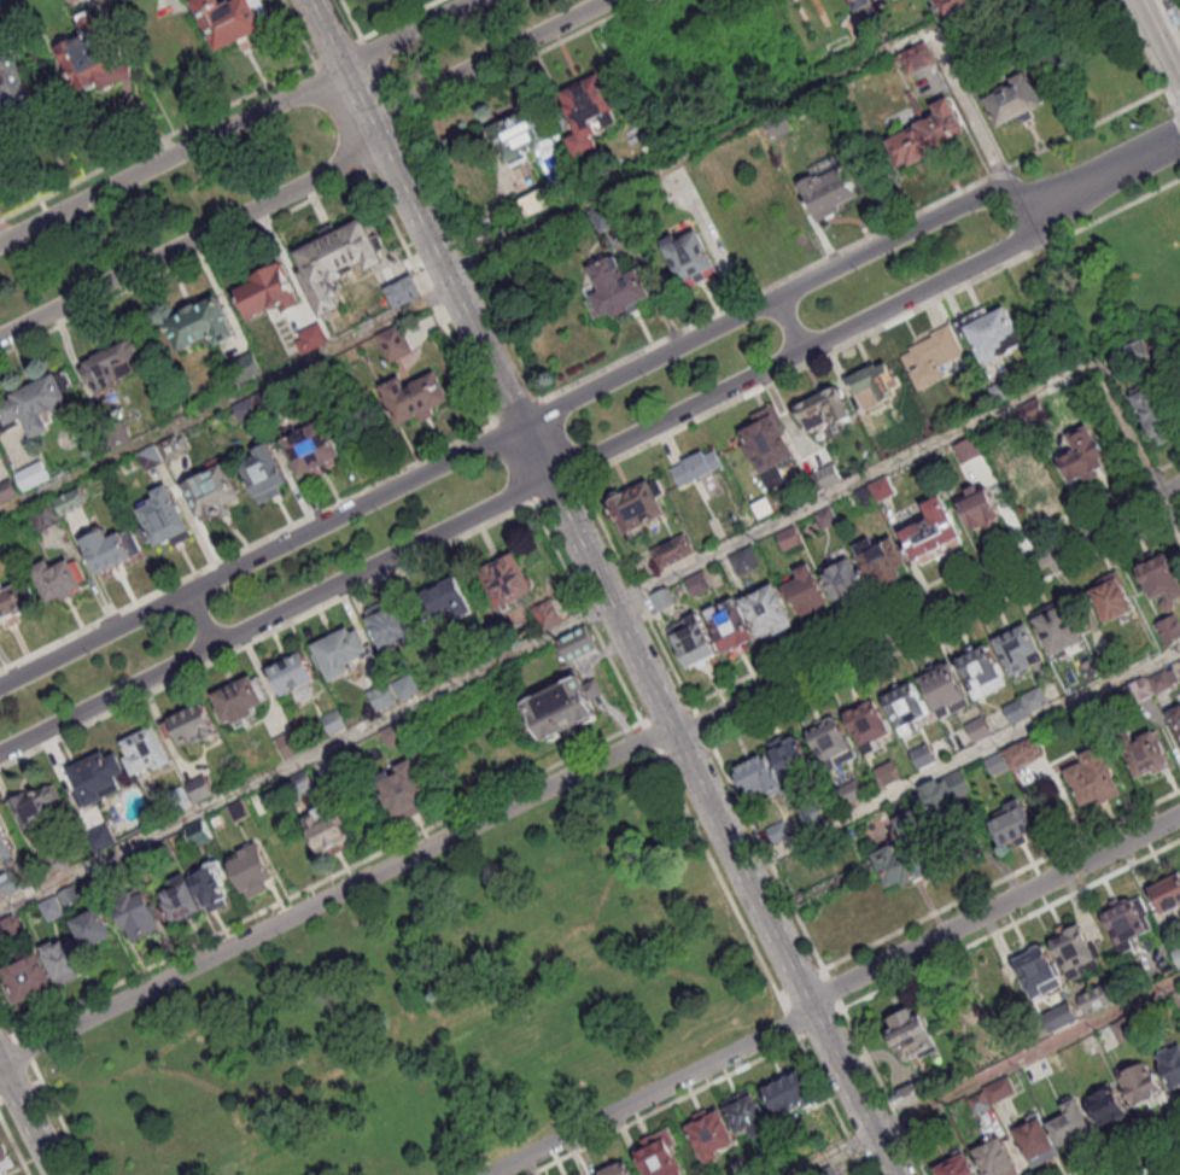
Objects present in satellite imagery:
building: (858, 2)
building: (951, 6)
road: (1163, 11)
building: (230, 19)
road: (352, 19)
road: (398, 21)
building: (1, 25)
road: (298, 31)
road: (323, 33)
road: (1174, 34)
road: (338, 51)
road: (1147, 55)
building: (915, 58)
building: (94, 59)
road: (486, 59)
road: (524, 60)
building: (16, 92)
road: (356, 93)
building: (1013, 101)
road: (1176, 104)
road: (969, 110)
building: (586, 111)
road: (1178, 117)
road: (235, 121)
building: (779, 123)
building: (519, 133)
building: (930, 135)
road: (159, 140)
road: (687, 150)
road: (1128, 162)
building: (829, 193)
building: (537, 203)
building: (612, 212)
road: (194, 239)
road: (853, 245)
building: (690, 256)
building: (338, 261)
road: (473, 261)
road: (186, 262)
park: (1104, 283)
road: (794, 287)
building: (618, 288)
building: (267, 290)
building: (404, 291)
road: (433, 296)
building: (201, 322)
road: (787, 325)
road: (881, 329)
building: (991, 333)
building: (314, 338)
building: (395, 344)
building: (1134, 356)
building: (933, 357)
building: (110, 364)
building: (247, 369)
building: (875, 385)
building: (1003, 392)
building: (415, 396)
road: (226, 399)
building: (35, 401)
building: (267, 402)
road: (518, 409)
building: (247, 410)
building: (824, 410)
building: (1157, 411)
building: (1033, 414)
traffic signals: (522, 423)
road: (1132, 427)
building: (118, 433)
road: (562, 439)
building: (770, 445)
building: (175, 449)
building: (312, 450)
building: (969, 451)
building: (1082, 457)
building: (152, 458)
road: (509, 464)
building: (696, 468)
building: (264, 474)
building: (34, 475)
building: (830, 475)
traffic signals: (549, 477)
road: (545, 478)
building: (1023, 478)
road: (560, 489)
building: (883, 489)
building: (8, 492)
building: (212, 493)
building: (866, 497)
building: (72, 502)
road: (1172, 508)
building: (637, 509)
building: (982, 509)
building: (46, 515)
building: (828, 519)
building: (164, 520)
building: (933, 531)
building: (789, 539)
road: (247, 548)
building: (107, 551)
road: (261, 553)
building: (673, 553)
building: (746, 562)
building: (882, 562)
building: (58, 580)
building: (506, 580)
building: (846, 581)
road: (935, 581)
building: (1161, 583)
building: (700, 584)
building: (806, 591)
road: (638, 596)
building: (1112, 598)
building: (446, 600)
building: (664, 600)
building: (11, 607)
road: (586, 612)
building: (767, 612)
road: (927, 612)
building: (547, 615)
road: (201, 616)
building: (392, 626)
building: (730, 629)
road: (946, 629)
building: (1059, 629)
building: (1170, 630)
road: (269, 632)
road: (549, 636)
building: (694, 643)
building: (577, 644)
road: (631, 648)
building: (1018, 650)
building: (340, 654)
building: (1110, 666)
building: (981, 673)
building: (296, 679)
building: (1164, 682)
building: (407, 688)
building: (944, 690)
building: (1139, 691)
building: (384, 698)
building: (1036, 700)
building: (239, 702)
building: (560, 709)
building: (906, 709)
building: (1017, 712)
building: (1176, 718)
building: (335, 724)
road: (702, 725)
building: (869, 726)
building: (193, 727)
building: (980, 731)
building: (393, 736)
road: (649, 738)
building: (833, 744)
building: (290, 747)
building: (147, 753)
building: (1144, 753)
building: (1024, 754)
building: (790, 758)
building: (923, 758)
road: (960, 761)
building: (998, 765)
building: (889, 774)
building: (98, 778)
building: (760, 778)
building: (1093, 779)
building: (300, 785)
building: (201, 791)
building: (404, 791)
building: (853, 794)
building: (945, 794)
building: (180, 801)
building: (35, 809)
building: (240, 812)
building: (811, 814)
building: (1013, 825)
building: (327, 830)
building: (779, 832)
building: (200, 834)
building: (103, 840)
building: (5, 848)
building: (159, 852)
building: (910, 852)
road: (766, 853)
building: (53, 865)
building: (252, 872)
road: (331, 877)
road: (1001, 881)
building: (110, 882)
road: (723, 883)
building: (10, 887)
building: (211, 887)
road: (332, 895)
building: (1168, 895)
building: (71, 896)
building: (183, 904)
building: (53, 908)
building: (139, 917)
road: (1011, 925)
building: (1126, 925)
building: (13, 928)
building: (95, 931)
building: (1073, 952)
building: (1176, 957)
building: (65, 963)
building: (1038, 974)
building: (30, 978)
road: (833, 990)
road: (834, 990)
building: (1098, 1000)
park: (436, 1007)
road: (10, 1013)
building: (1061, 1018)
road: (820, 1023)
road: (791, 1024)
building: (1127, 1030)
building: (913, 1037)
road: (10, 1039)
road: (25, 1047)
road: (1026, 1057)
building: (1172, 1069)
building: (1141, 1087)
road: (21, 1091)
road: (883, 1092)
building: (1000, 1092)
building: (791, 1097)
building: (911, 1098)
road: (660, 1105)
road: (831, 1105)
building: (979, 1105)
building: (1105, 1107)
building: (748, 1116)
road: (27, 1117)
road: (60, 1118)
building: (924, 1128)
building: (1071, 1128)
building: (711, 1136)
building: (1036, 1144)
road: (14, 1145)
road: (1124, 1147)
road: (831, 1153)
building: (660, 1156)
road: (1147, 1158)
building: (783, 1159)
building: (994, 1159)
building: (6, 1162)
building: (957, 1168)
building: (617, 1171)
building: (828, 1173)
road: (1176, 1173)

